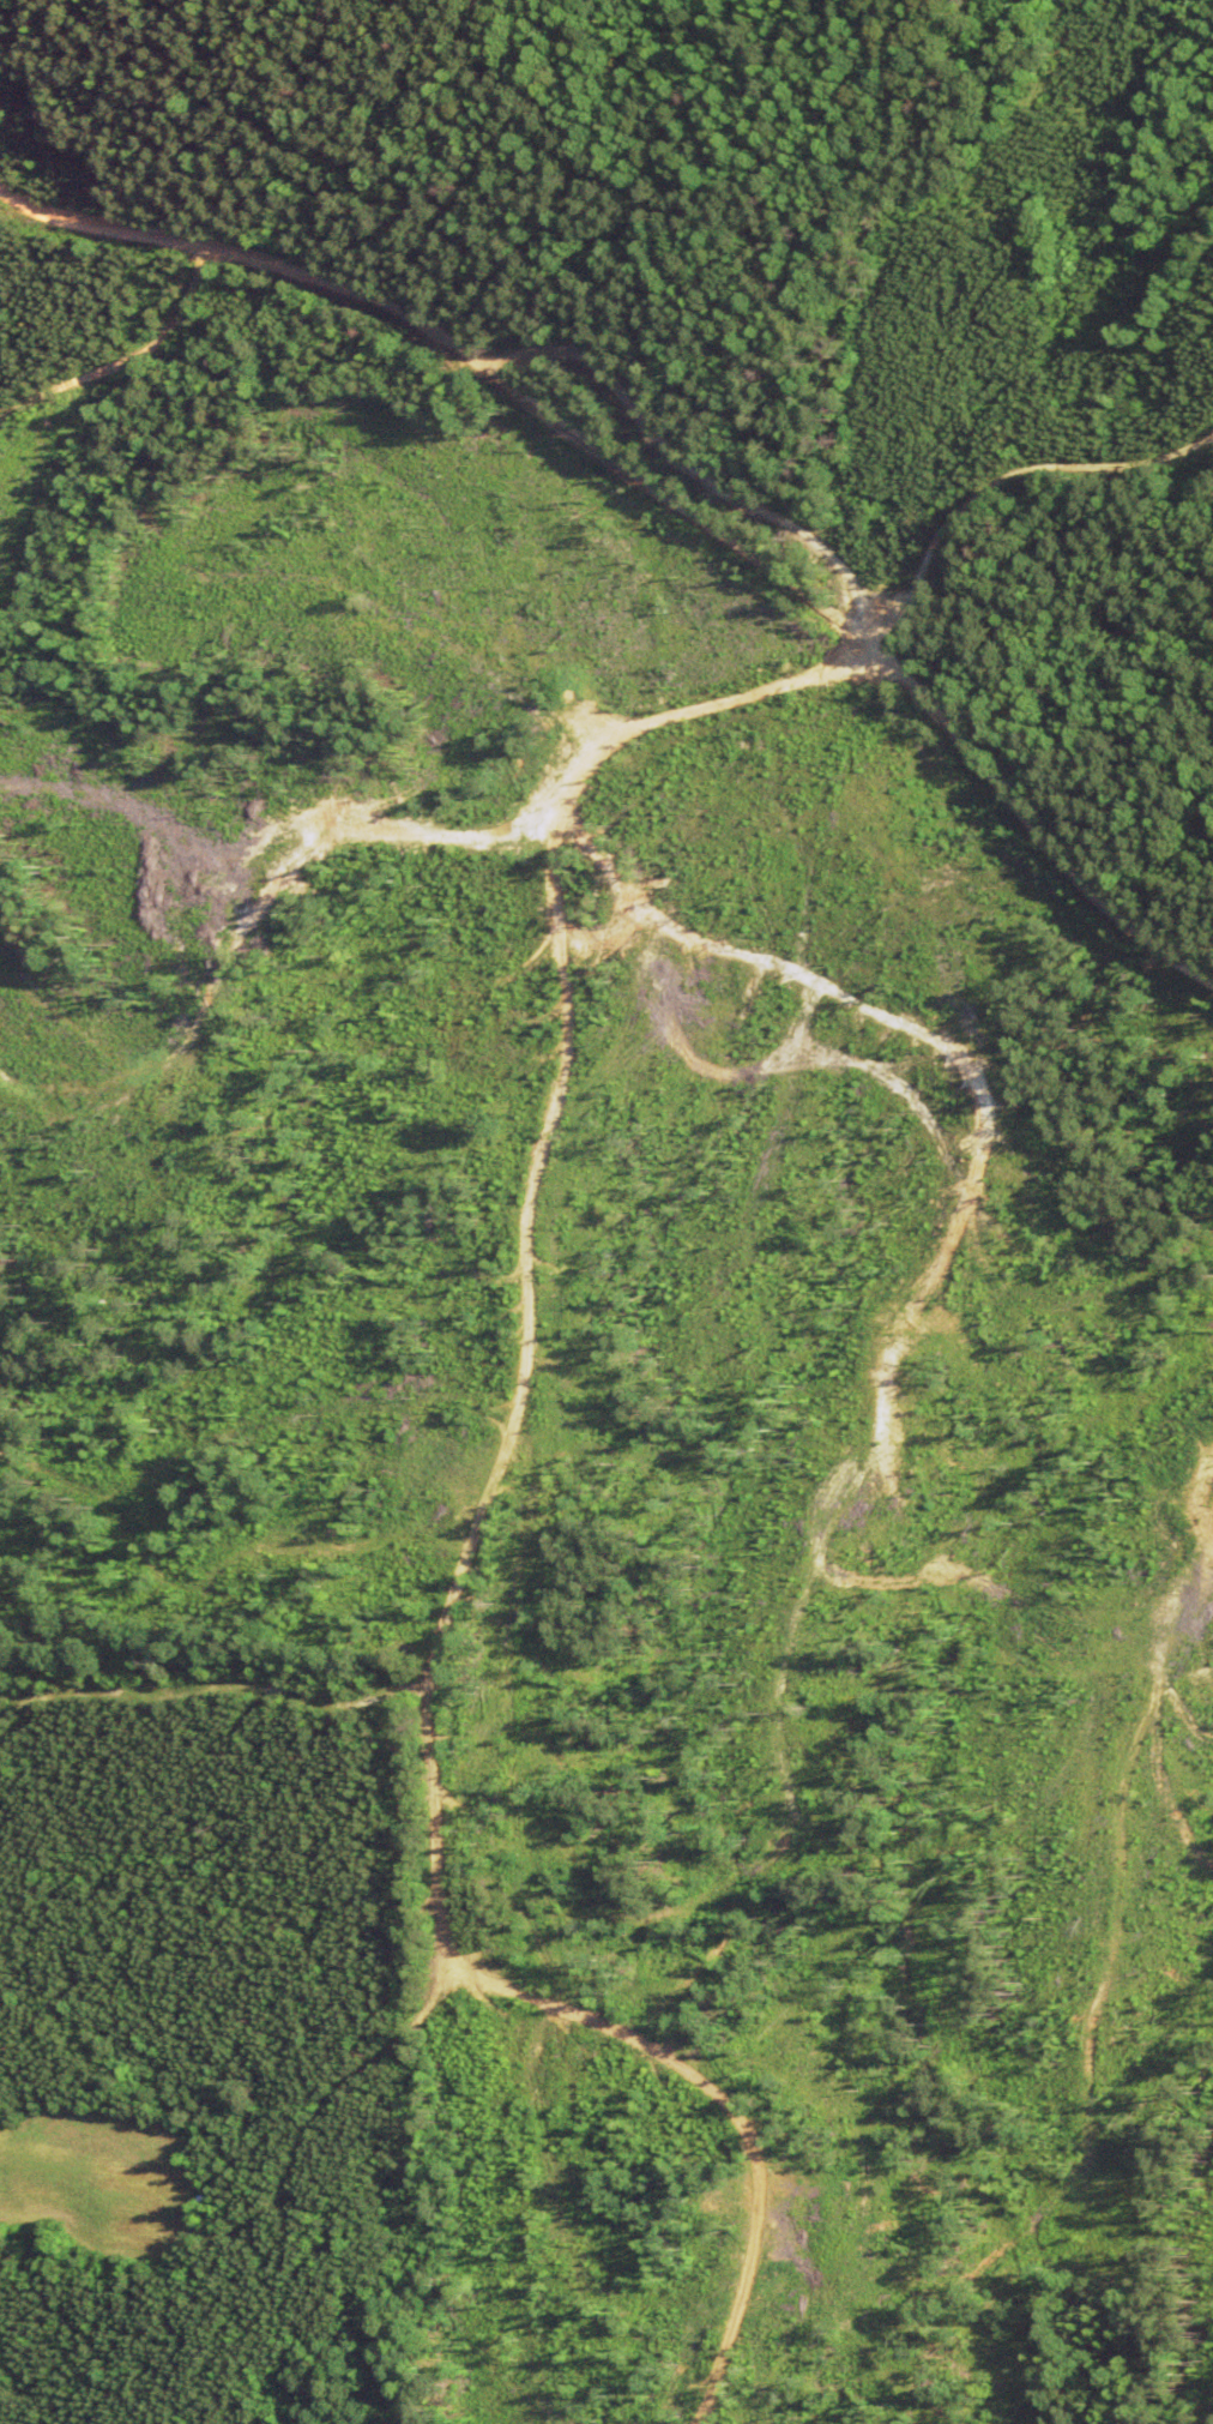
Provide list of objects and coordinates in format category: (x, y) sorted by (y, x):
road: (599, 349)

